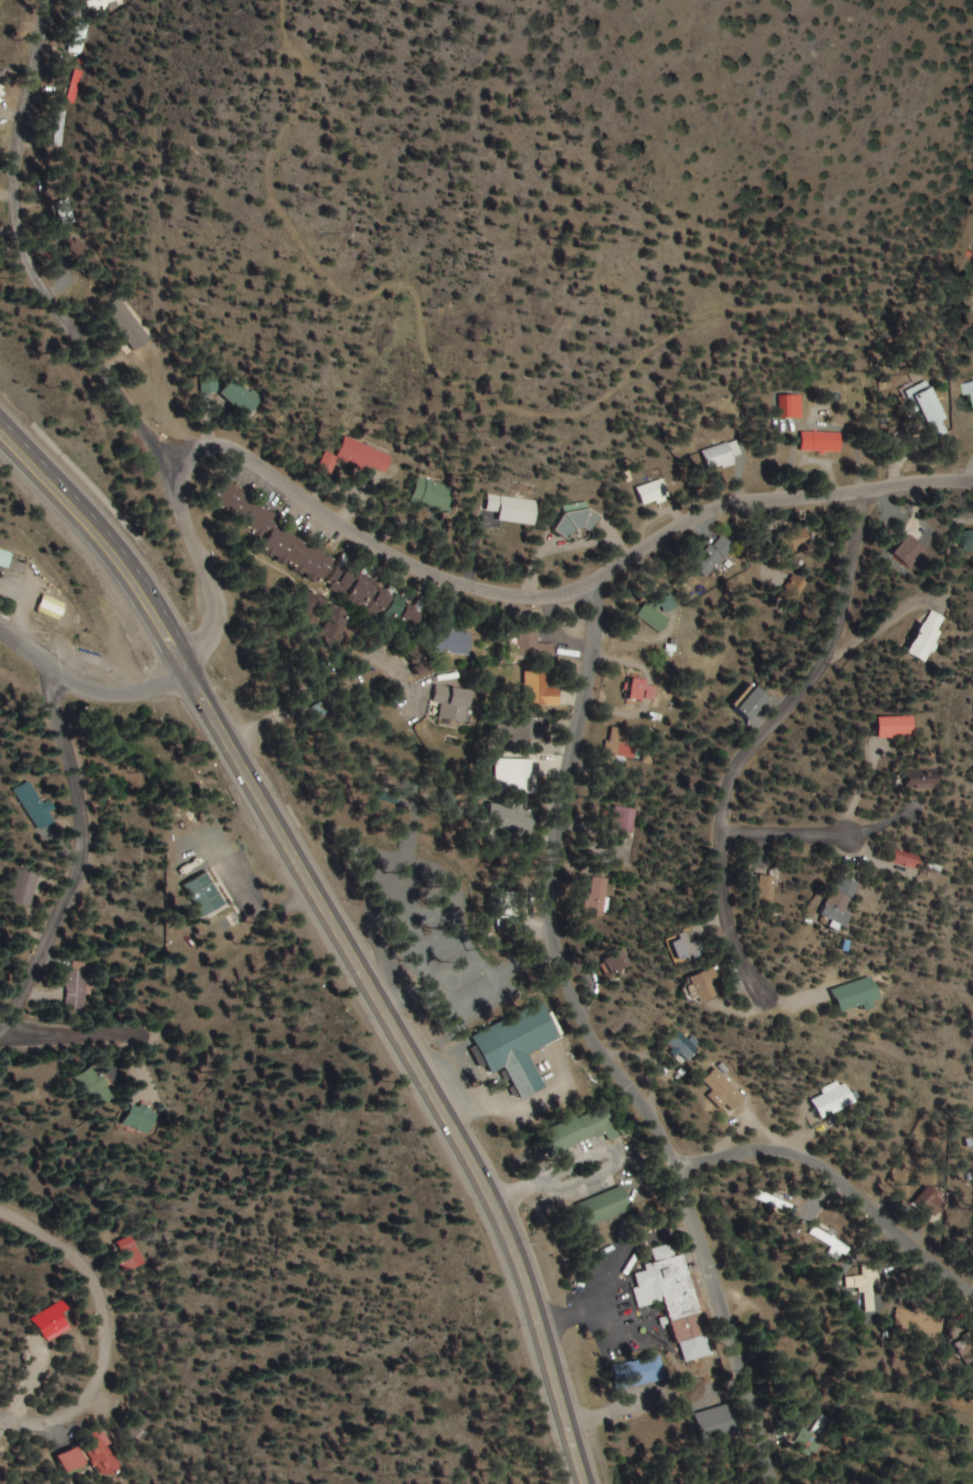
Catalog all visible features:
building: (96, 3)
building: (78, 38)
building: (74, 86)
building: (58, 127)
building: (66, 216)
road: (29, 257)
building: (968, 388)
building: (239, 396)
building: (791, 405)
building: (924, 410)
building: (820, 441)
building: (721, 455)
building: (357, 457)
building: (651, 492)
building: (433, 495)
building: (511, 509)
building: (274, 533)
building: (795, 539)
building: (965, 541)
building: (901, 552)
building: (712, 555)
building: (5, 559)
road: (457, 583)
building: (791, 587)
building: (373, 598)
building: (325, 616)
building: (652, 617)
building: (923, 636)
building: (451, 638)
building: (531, 647)
road: (92, 682)
building: (537, 689)
building: (640, 690)
road: (785, 699)
building: (451, 703)
building: (518, 727)
building: (895, 727)
building: (620, 743)
building: (519, 775)
building: (924, 779)
building: (34, 805)
building: (516, 819)
building: (620, 820)
road: (784, 833)
building: (910, 859)
road: (87, 860)
building: (25, 887)
building: (765, 890)
building: (204, 894)
building: (598, 895)
building: (842, 901)
road: (336, 930)
building: (688, 948)
building: (618, 961)
building: (706, 985)
building: (74, 989)
building: (862, 994)
road: (96, 1033)
road: (598, 1045)
building: (519, 1046)
building: (685, 1047)
building: (92, 1087)
building: (726, 1091)
building: (836, 1101)
building: (137, 1117)
building: (581, 1128)
road: (842, 1181)
building: (604, 1205)
building: (852, 1282)
building: (672, 1292)
building: (50, 1321)
road: (105, 1332)
building: (641, 1371)
building: (818, 1425)
building: (98, 1455)
building: (70, 1460)

